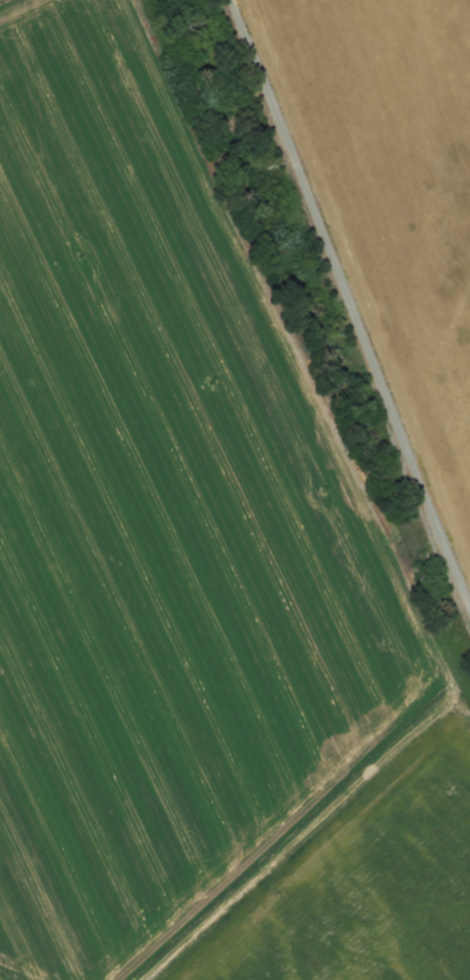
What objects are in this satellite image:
crop: (401, 175)
road: (344, 310)

